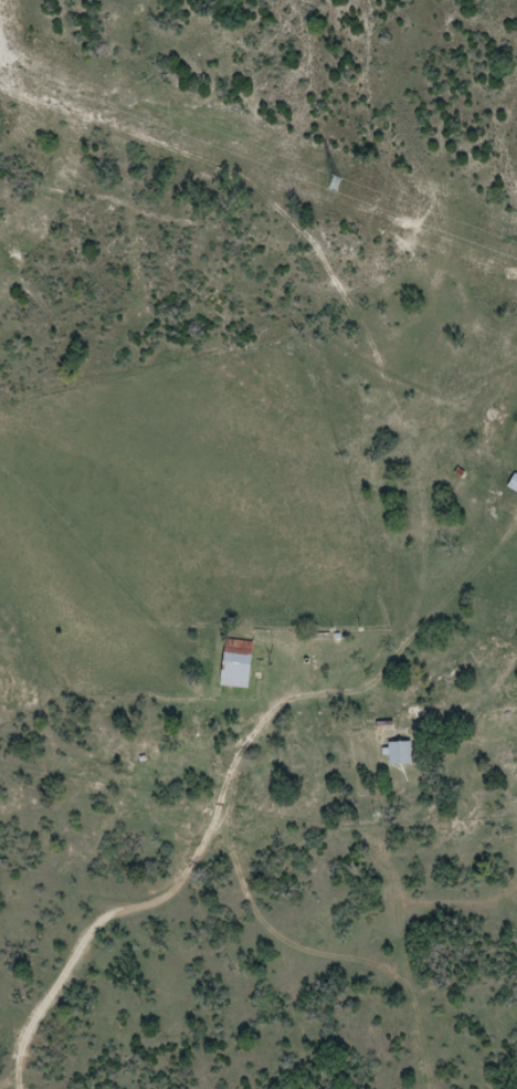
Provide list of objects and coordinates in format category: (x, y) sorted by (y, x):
power tower: (335, 185)
building: (457, 392)
building: (497, 439)
building: (235, 666)
building: (399, 754)

